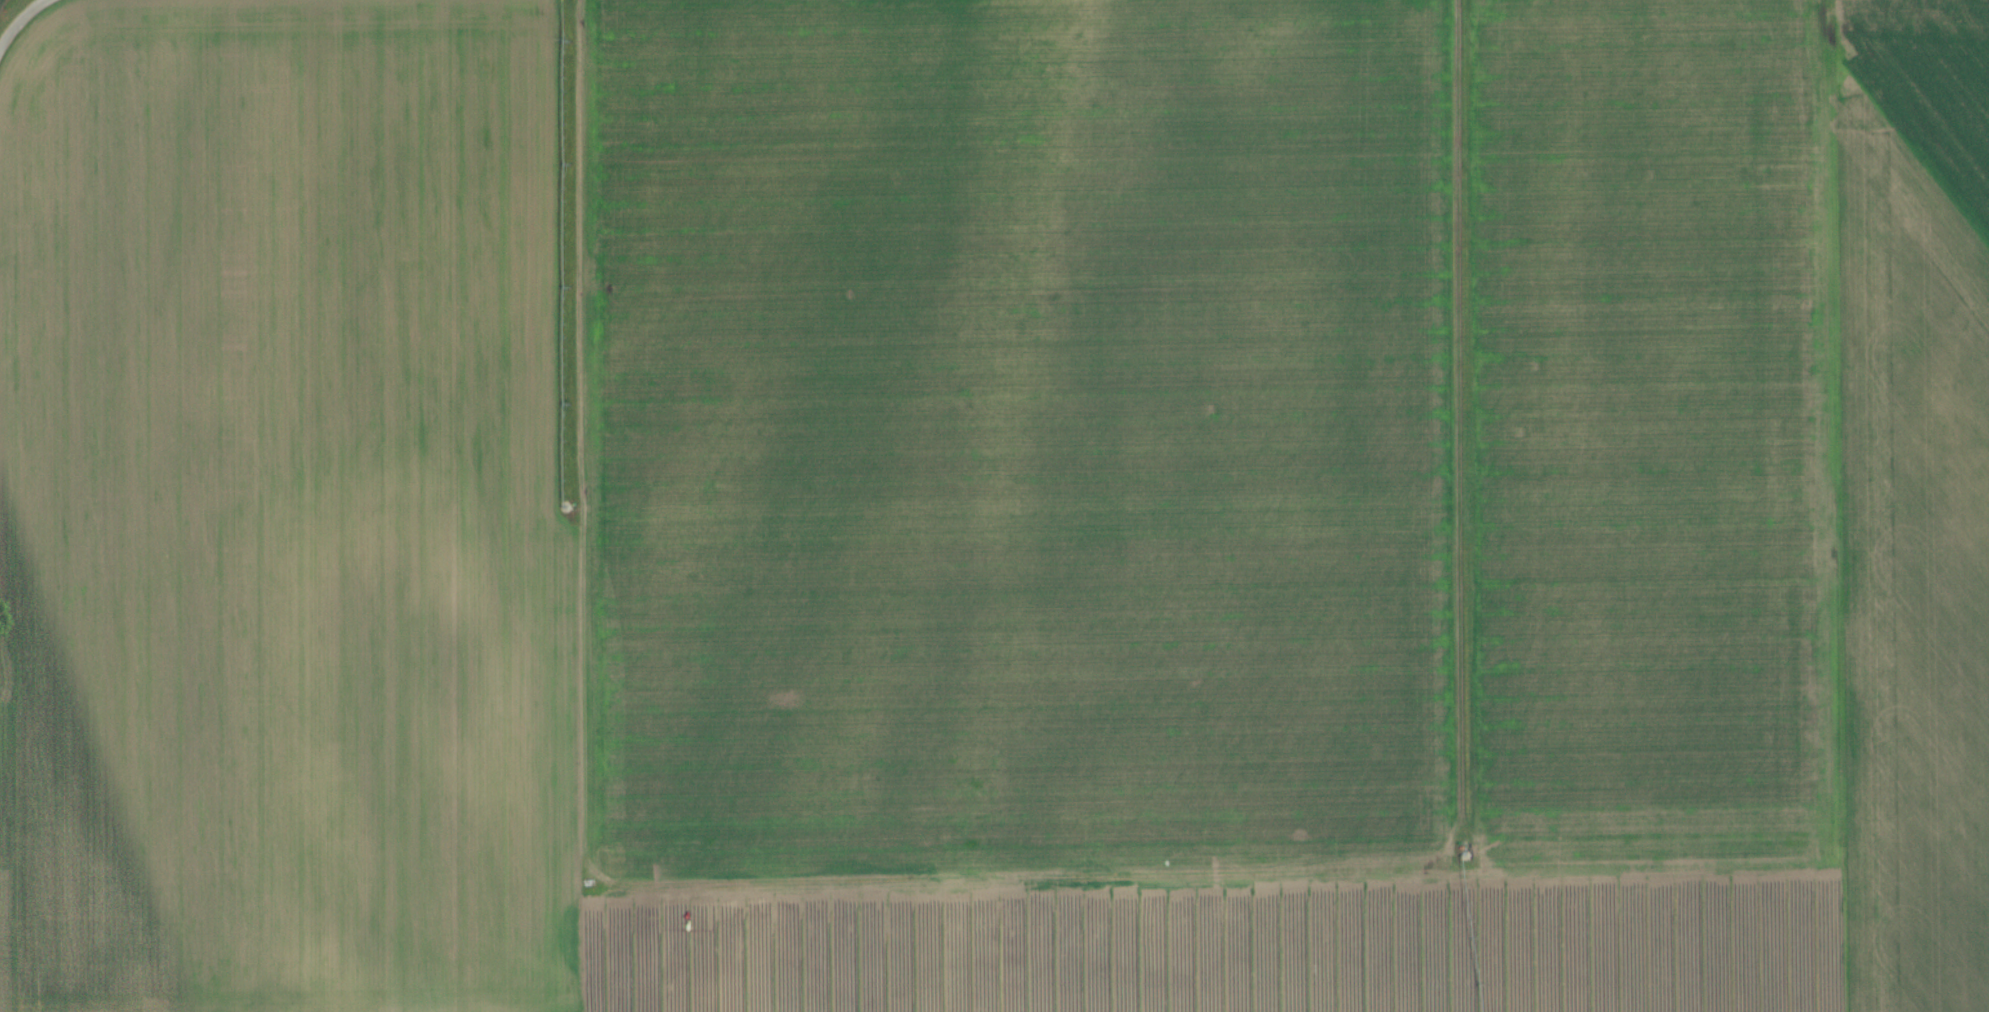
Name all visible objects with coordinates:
road: (25, 23)

